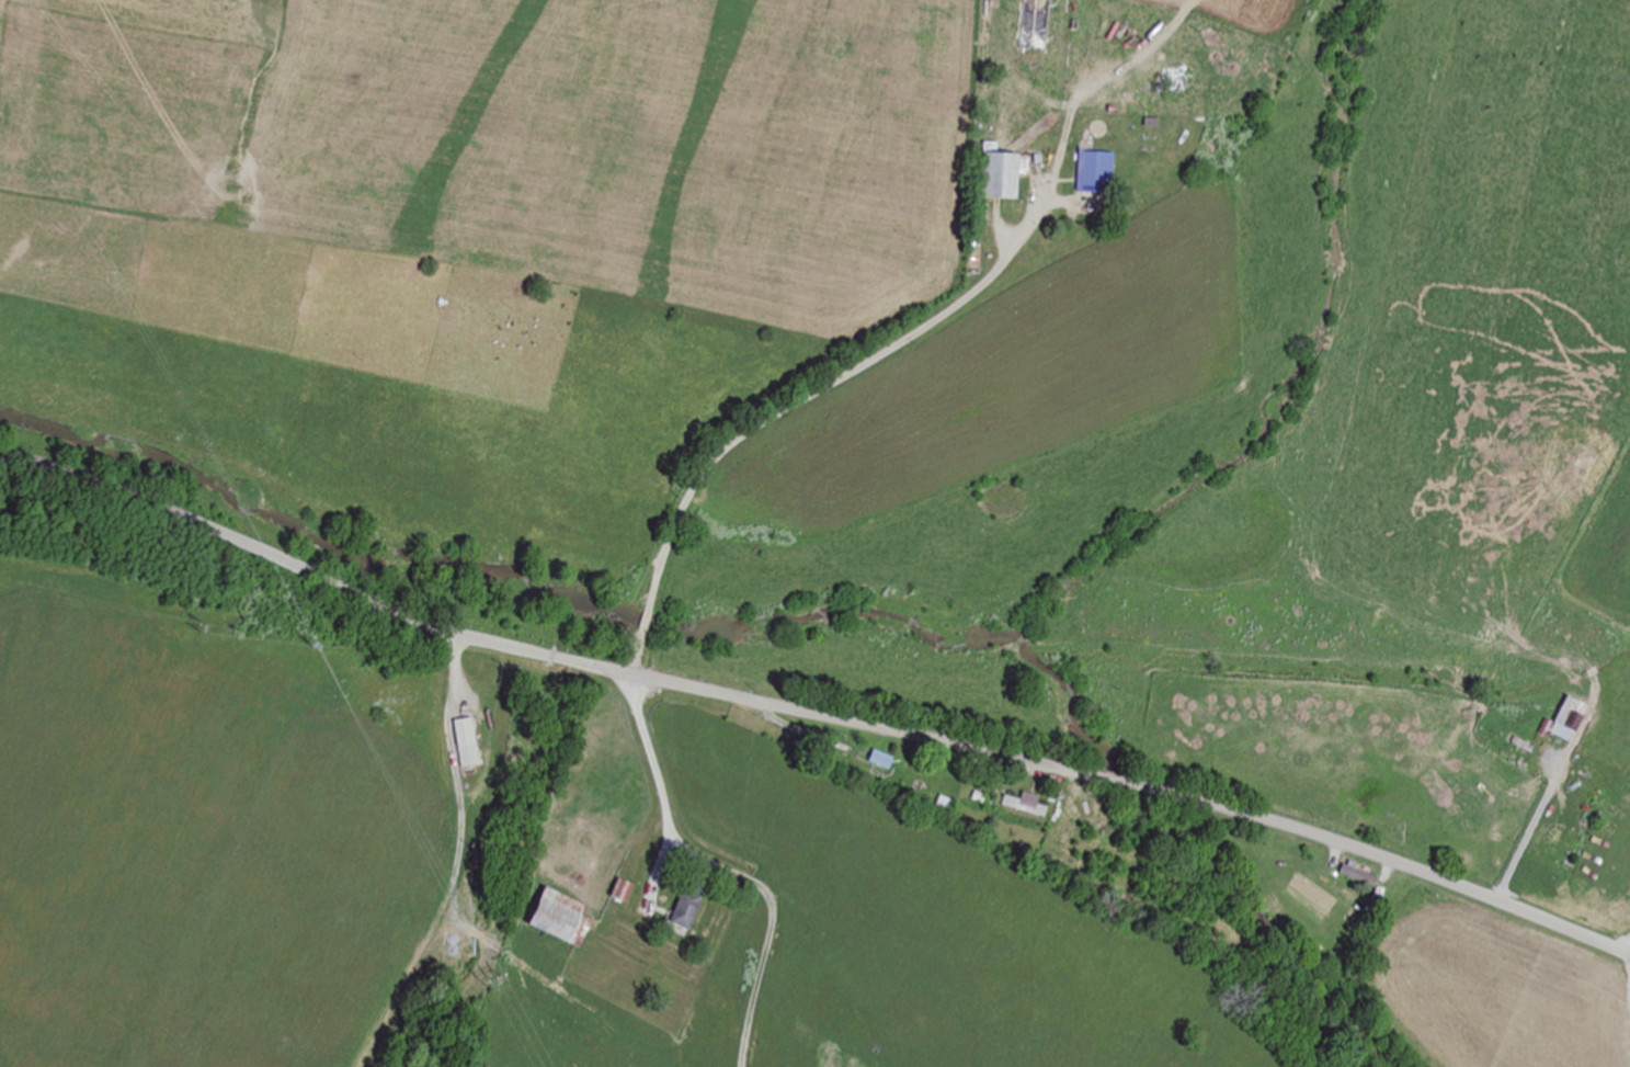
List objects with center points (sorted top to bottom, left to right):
building: (1038, 24)
building: (1104, 171)
building: (1008, 172)
road: (832, 382)
road: (310, 571)
road: (646, 618)
road: (636, 652)
building: (1573, 717)
building: (470, 742)
building: (877, 757)
road: (659, 773)
road: (1136, 786)
building: (1026, 804)
building: (946, 807)
road: (1531, 830)
building: (1365, 875)
building: (689, 908)
building: (563, 916)
road: (1626, 1002)

